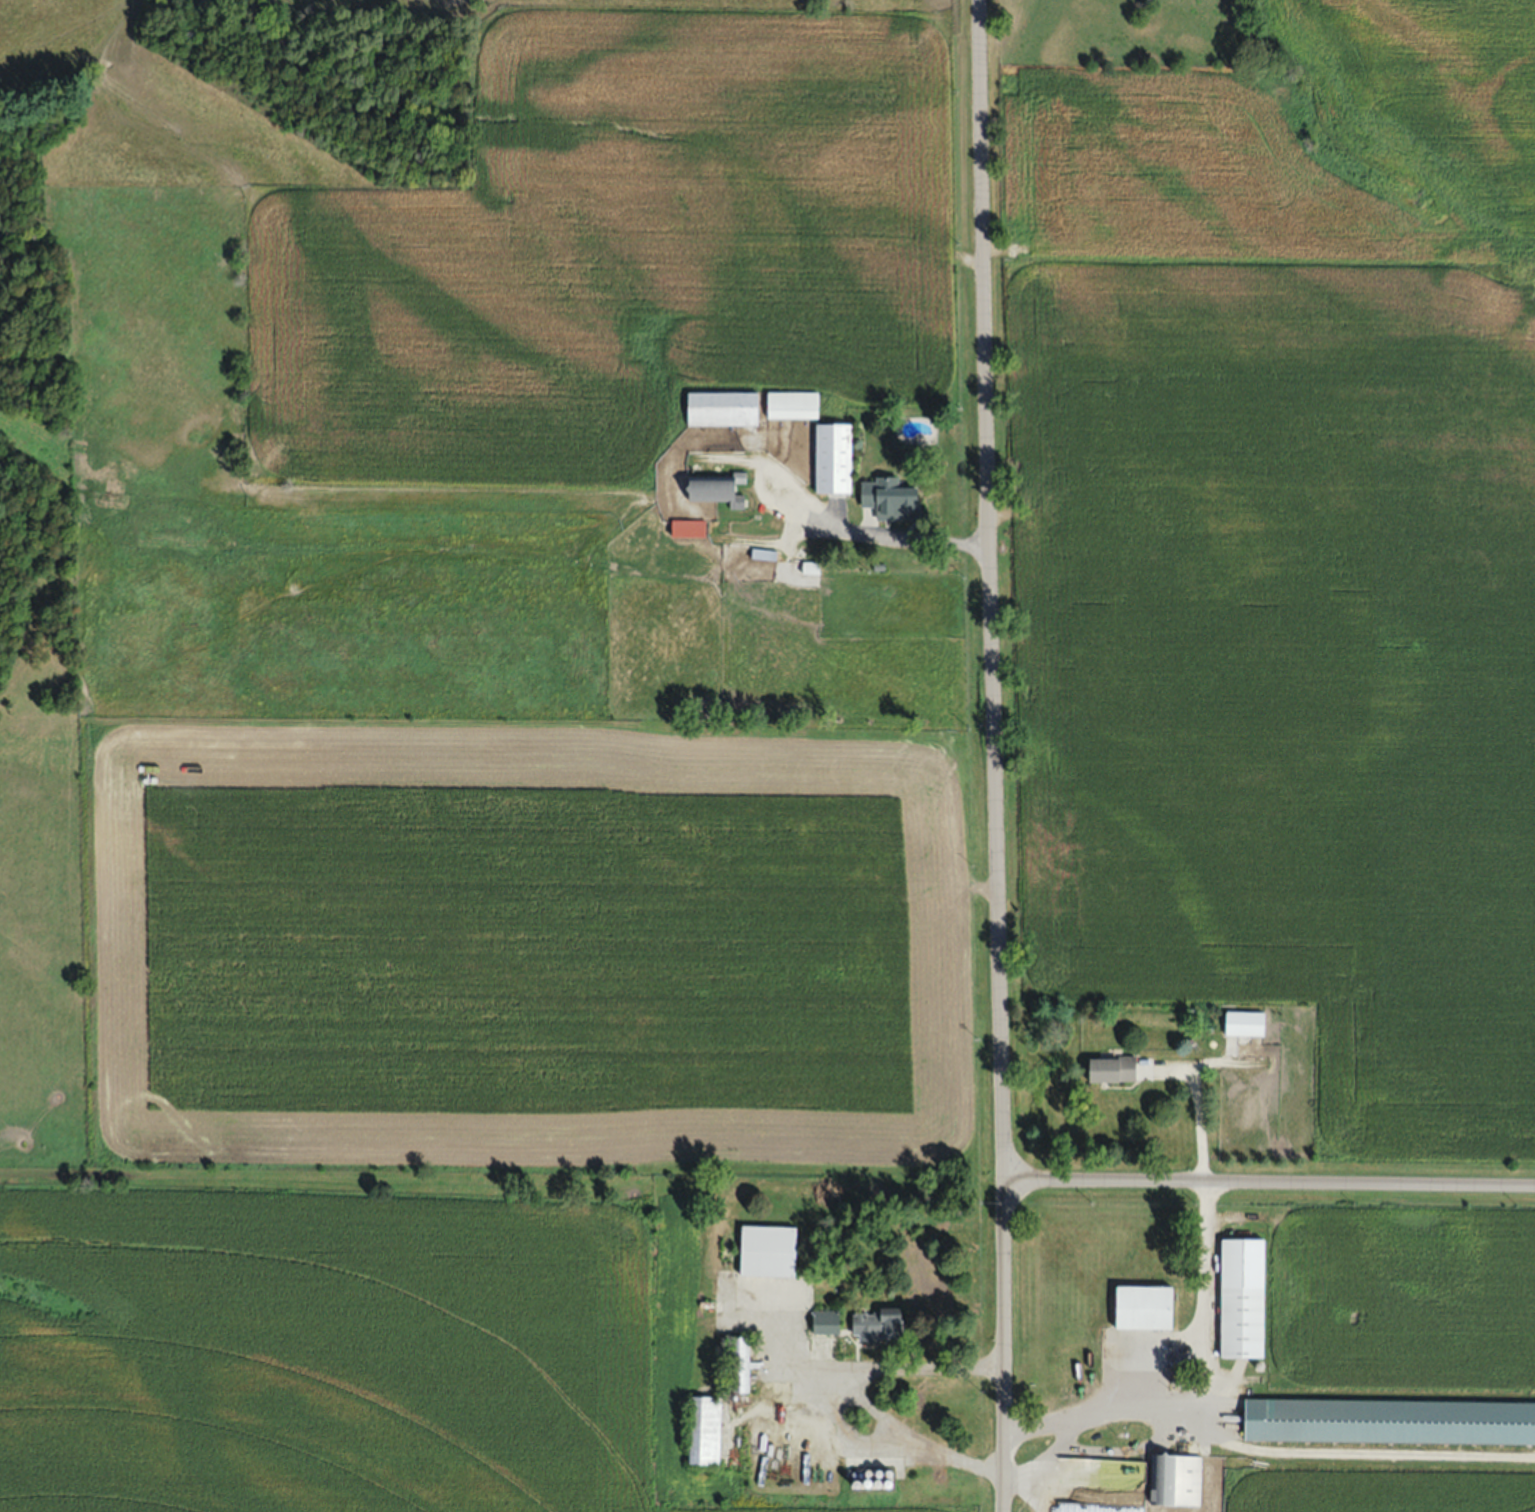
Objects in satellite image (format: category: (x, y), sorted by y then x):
building: (793, 404)
building: (723, 408)
building: (834, 457)
building: (718, 487)
building: (889, 495)
road: (883, 534)
crop: (1276, 537)
building: (763, 552)
road: (993, 755)
building: (1245, 1023)
building: (1113, 1069)
road: (1198, 1111)
road: (1268, 1189)
building: (768, 1249)
building: (1243, 1296)
building: (1145, 1305)
building: (826, 1321)
building: (878, 1322)
building: (744, 1363)
road: (1169, 1366)
road: (859, 1396)
building: (1390, 1419)
building: (706, 1429)
building: (1103, 1470)
building: (1176, 1478)

